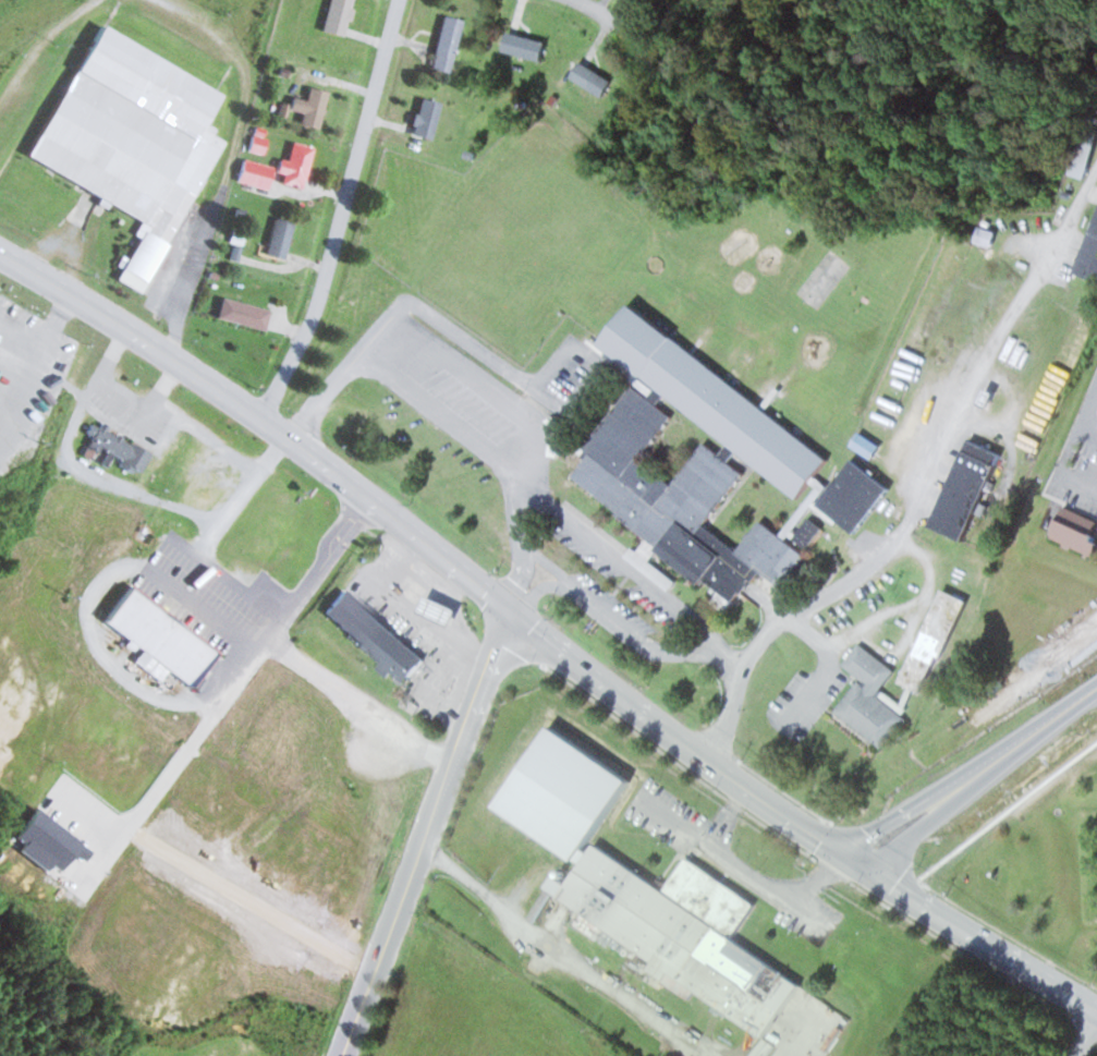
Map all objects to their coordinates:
park: (1, 0)
building: (340, 16)
road: (600, 17)
building: (450, 44)
building: (527, 46)
building: (595, 80)
building: (314, 107)
building: (429, 118)
building: (120, 120)
building: (298, 166)
building: (253, 172)
road: (341, 213)
building: (990, 238)
building: (282, 239)
building: (1088, 252)
park: (821, 278)
building: (587, 299)
building: (246, 314)
road: (346, 366)
building: (1, 369)
building: (812, 396)
road: (564, 409)
road: (535, 418)
building: (122, 449)
building: (706, 463)
building: (216, 482)
building: (964, 488)
road: (553, 506)
building: (1077, 530)
road: (432, 548)
road: (540, 562)
road: (209, 563)
road: (543, 575)
road: (256, 585)
road: (520, 598)
road: (203, 608)
building: (435, 609)
traffic signals: (514, 614)
road: (780, 622)
building: (371, 634)
building: (155, 635)
building: (931, 636)
road: (634, 638)
road: (821, 670)
road: (245, 671)
building: (867, 694)
road: (977, 772)
road: (916, 773)
road: (86, 817)
road: (429, 835)
building: (45, 840)
traffic signals: (857, 860)
road: (731, 861)
road: (101, 866)
road: (820, 877)
building: (639, 885)
road: (977, 933)
road: (1083, 1032)

